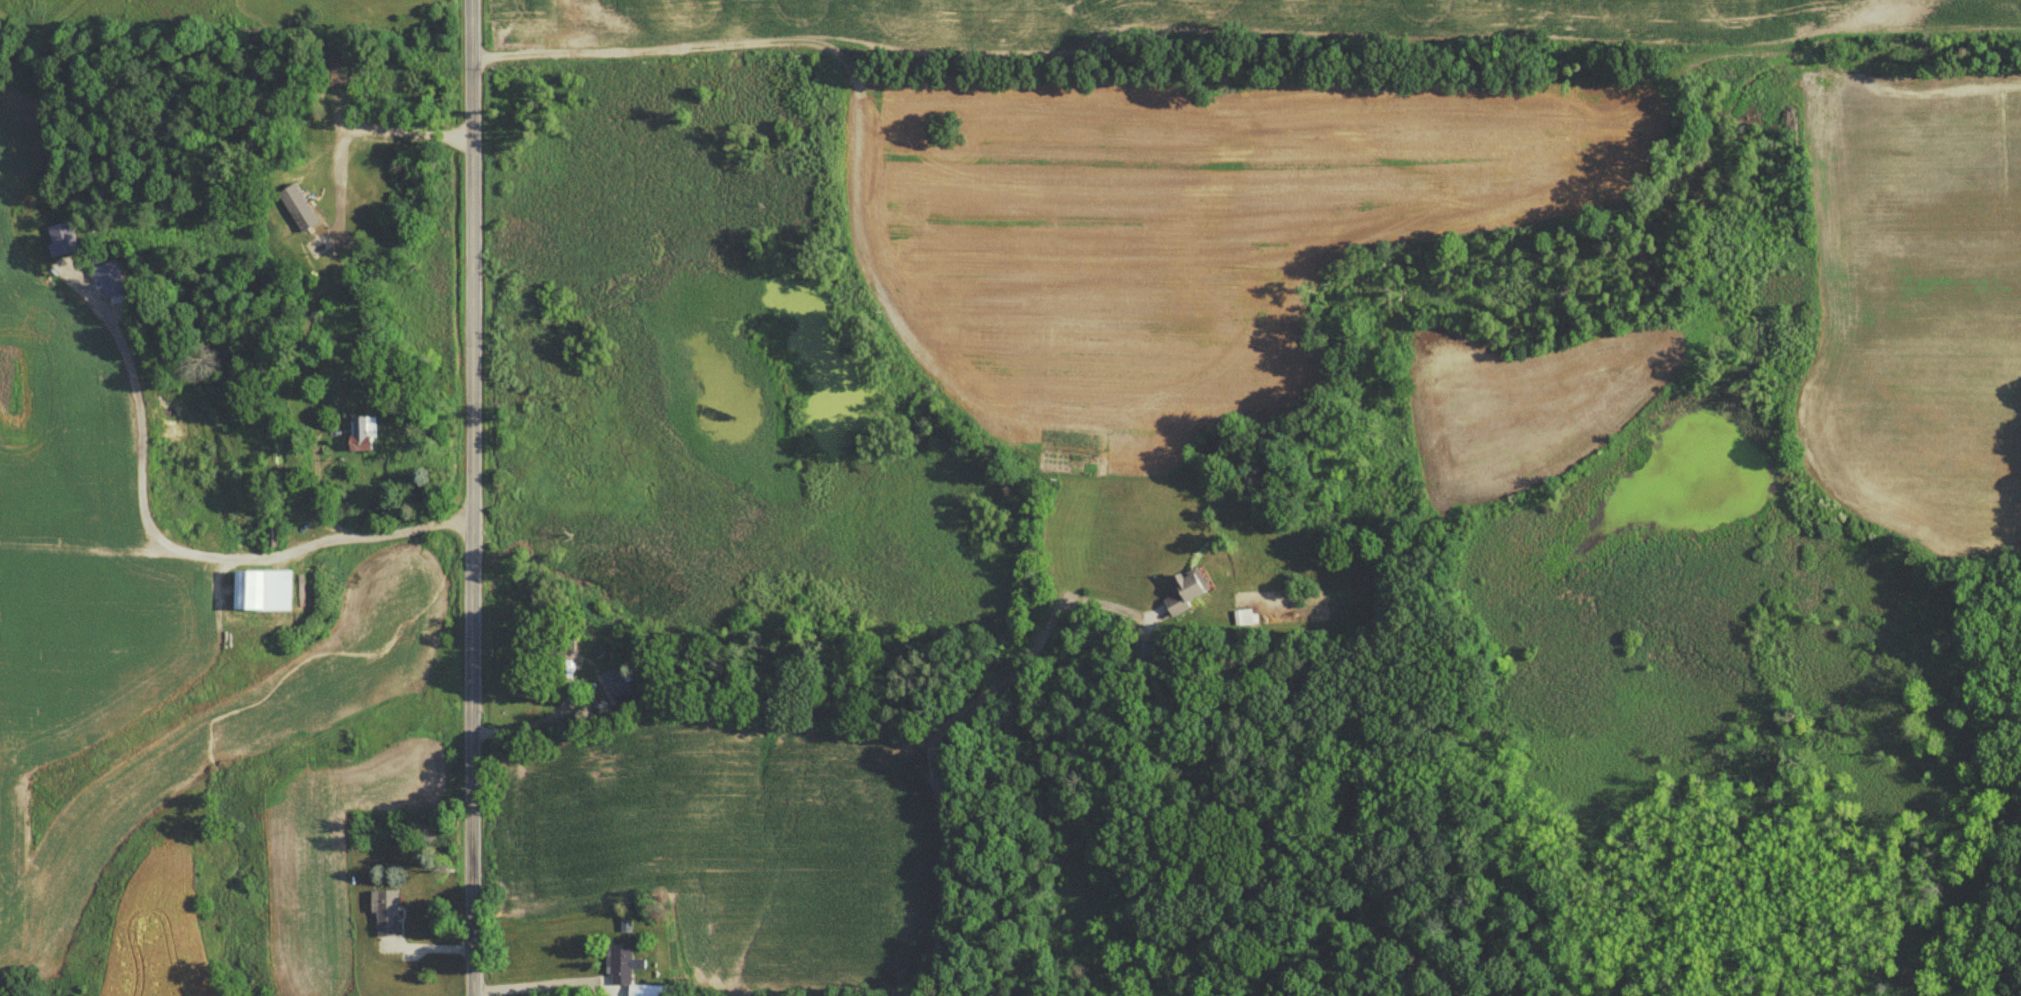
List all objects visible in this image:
building: (370, 435)
road: (312, 495)
road: (472, 498)
road: (167, 542)
building: (268, 591)
building: (1191, 592)
building: (1247, 618)
building: (564, 648)
building: (620, 683)
road: (534, 723)
road: (939, 738)
building: (389, 913)
building: (634, 972)
road: (547, 983)

